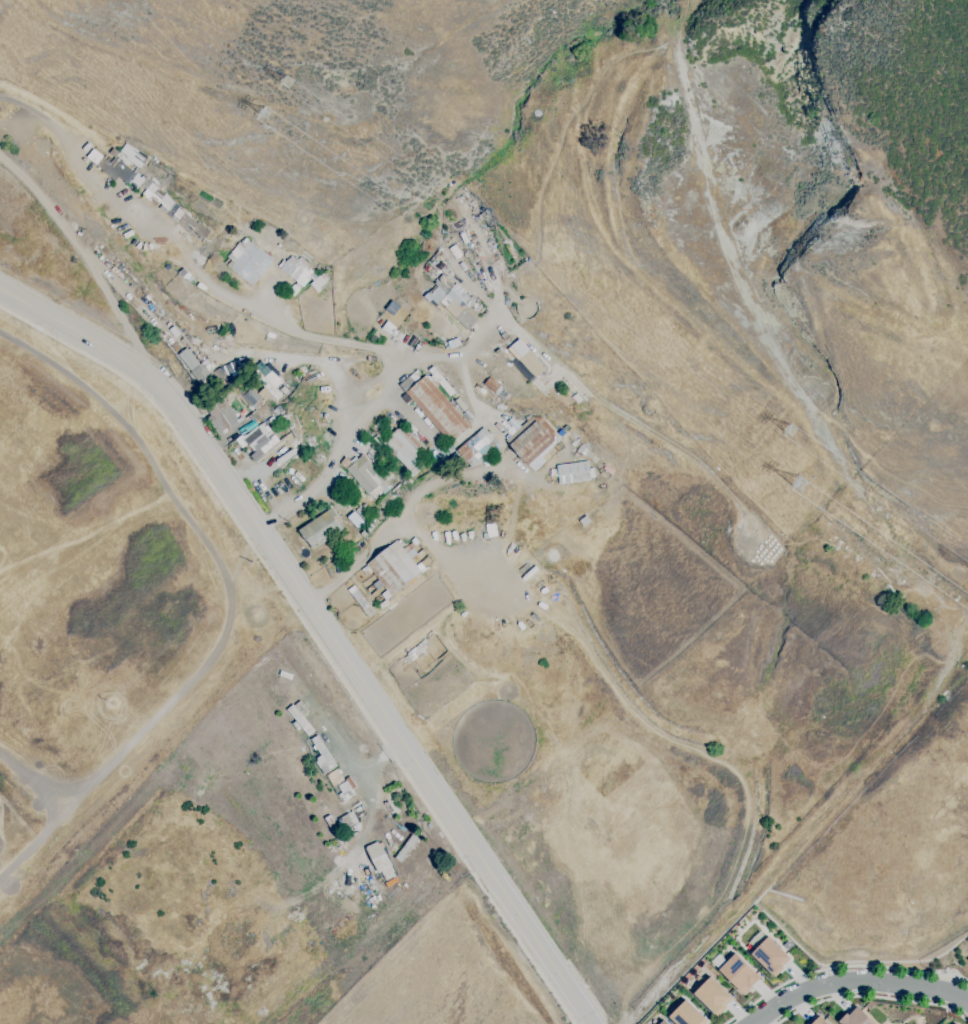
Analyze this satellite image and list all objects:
power tower: (284, 84)
power tower: (262, 111)
building: (127, 166)
building: (185, 217)
building: (486, 219)
building: (465, 234)
road: (86, 254)
road: (183, 254)
building: (250, 261)
building: (296, 269)
building: (294, 292)
building: (454, 292)
building: (461, 314)
building: (389, 329)
building: (438, 346)
building: (531, 362)
building: (200, 372)
building: (441, 381)
building: (237, 384)
building: (492, 384)
building: (269, 387)
building: (205, 394)
building: (254, 398)
road: (374, 399)
building: (437, 409)
building: (223, 416)
power tower: (788, 426)
building: (532, 438)
building: (379, 439)
building: (263, 443)
building: (407, 448)
building: (477, 450)
building: (456, 455)
building: (574, 472)
building: (366, 474)
road: (444, 478)
power tower: (802, 485)
building: (358, 498)
building: (388, 500)
building: (364, 520)
building: (846, 524)
building: (321, 528)
building: (813, 539)
building: (413, 542)
building: (491, 554)
building: (859, 555)
building: (479, 556)
building: (394, 567)
building: (901, 579)
building: (956, 600)
building: (361, 602)
building: (934, 614)
road: (322, 629)
road: (314, 637)
building: (300, 717)
building: (323, 756)
building: (332, 777)
building: (345, 788)
building: (347, 820)
road: (813, 830)
building: (406, 848)
building: (380, 860)
building: (392, 882)
building: (773, 956)
park: (948, 963)
road: (839, 966)
building: (741, 972)
road: (855, 981)
building: (717, 996)
building: (690, 1014)
building: (856, 1017)
building: (665, 1022)
building: (824, 1022)
building: (958, 1022)

